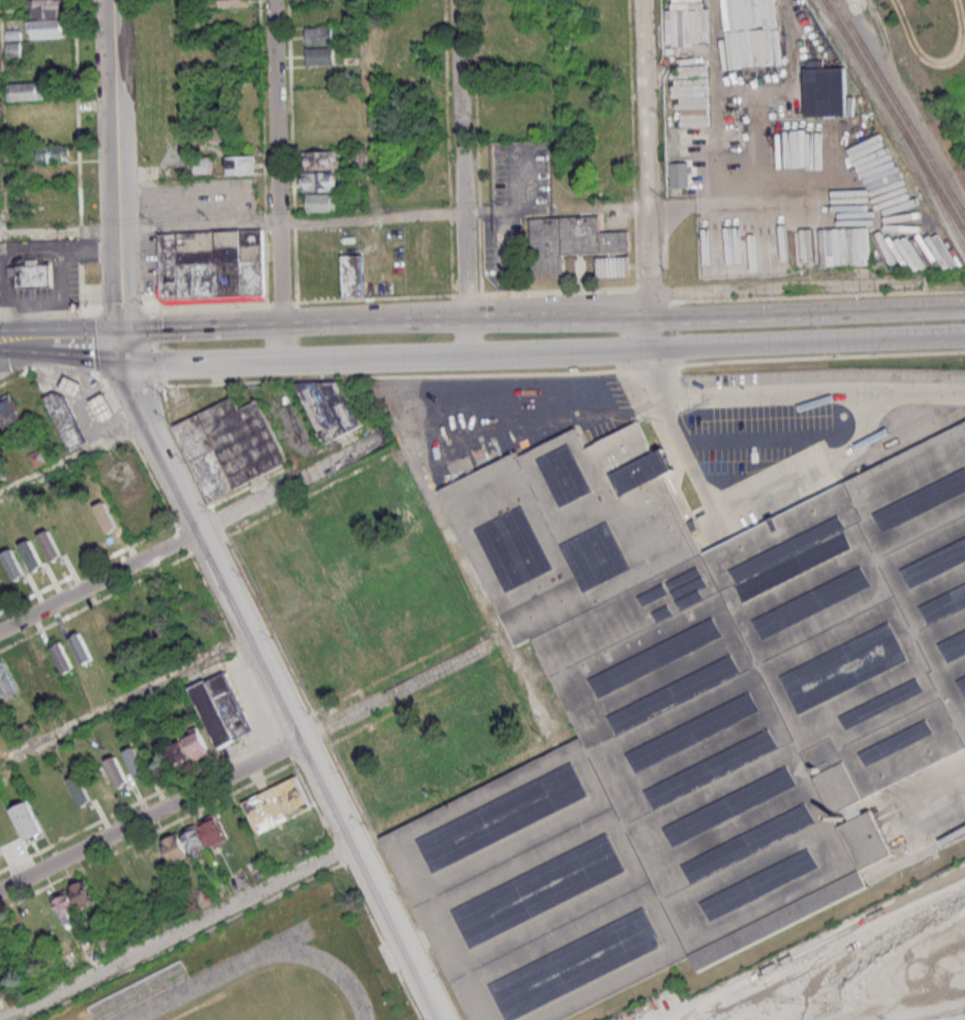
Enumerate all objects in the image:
building: (233, 3)
building: (45, 28)
building: (317, 37)
building: (11, 49)
building: (318, 57)
road: (550, 85)
road: (183, 86)
building: (824, 89)
building: (23, 91)
railway: (900, 106)
road: (364, 109)
railway: (893, 115)
building: (51, 152)
building: (319, 159)
road: (460, 159)
road: (275, 162)
road: (114, 163)
building: (240, 164)
building: (203, 165)
road: (642, 176)
building: (318, 181)
building: (612, 188)
railway: (934, 192)
road: (707, 201)
building: (321, 202)
road: (0, 205)
road: (370, 217)
road: (197, 224)
road: (57, 230)
building: (568, 242)
building: (215, 263)
building: (612, 268)
building: (32, 274)
building: (331, 274)
road: (805, 310)
road: (543, 318)
road: (342, 324)
road: (233, 325)
road: (170, 326)
traffic signals: (119, 327)
road: (69, 336)
road: (465, 338)
road: (281, 342)
road: (122, 344)
road: (10, 345)
road: (10, 351)
road: (684, 351)
road: (73, 353)
road: (342, 360)
traffic signals: (126, 362)
road: (203, 364)
road: (481, 374)
building: (74, 385)
road: (814, 400)
building: (105, 407)
building: (329, 408)
building: (11, 413)
building: (67, 420)
building: (230, 446)
building: (37, 458)
road: (73, 459)
road: (729, 515)
building: (106, 517)
road: (186, 532)
building: (50, 545)
building: (31, 555)
building: (16, 564)
building: (117, 626)
building: (154, 629)
building: (81, 647)
building: (62, 657)
building: (22, 669)
building: (6, 682)
road: (276, 693)
road: (124, 699)
building: (221, 708)
building: (689, 716)
building: (196, 744)
building: (178, 754)
building: (135, 762)
road: (237, 770)
building: (117, 771)
building: (80, 790)
building: (276, 804)
road: (942, 806)
building: (27, 821)
building: (213, 830)
building: (194, 839)
building: (0, 847)
building: (175, 847)
railway: (915, 856)
building: (73, 901)
road: (185, 935)
track: (282, 941)
building: (1, 945)
building: (92, 954)
track: (323, 963)
park: (266, 970)
track: (191, 988)
road: (756, 1003)

